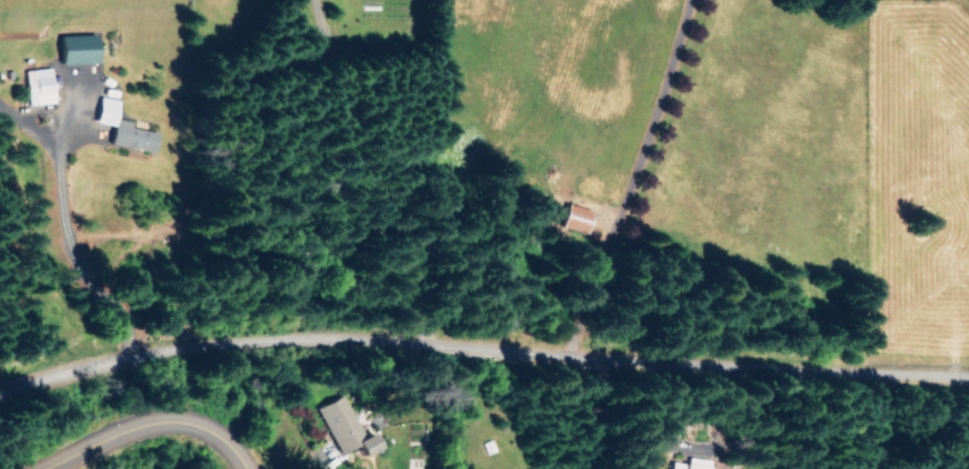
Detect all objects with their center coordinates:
building: (74, 46)
building: (37, 84)
building: (104, 108)
building: (130, 134)
road: (621, 174)
building: (573, 216)
road: (481, 347)
road: (146, 423)
building: (343, 425)
building: (688, 463)

